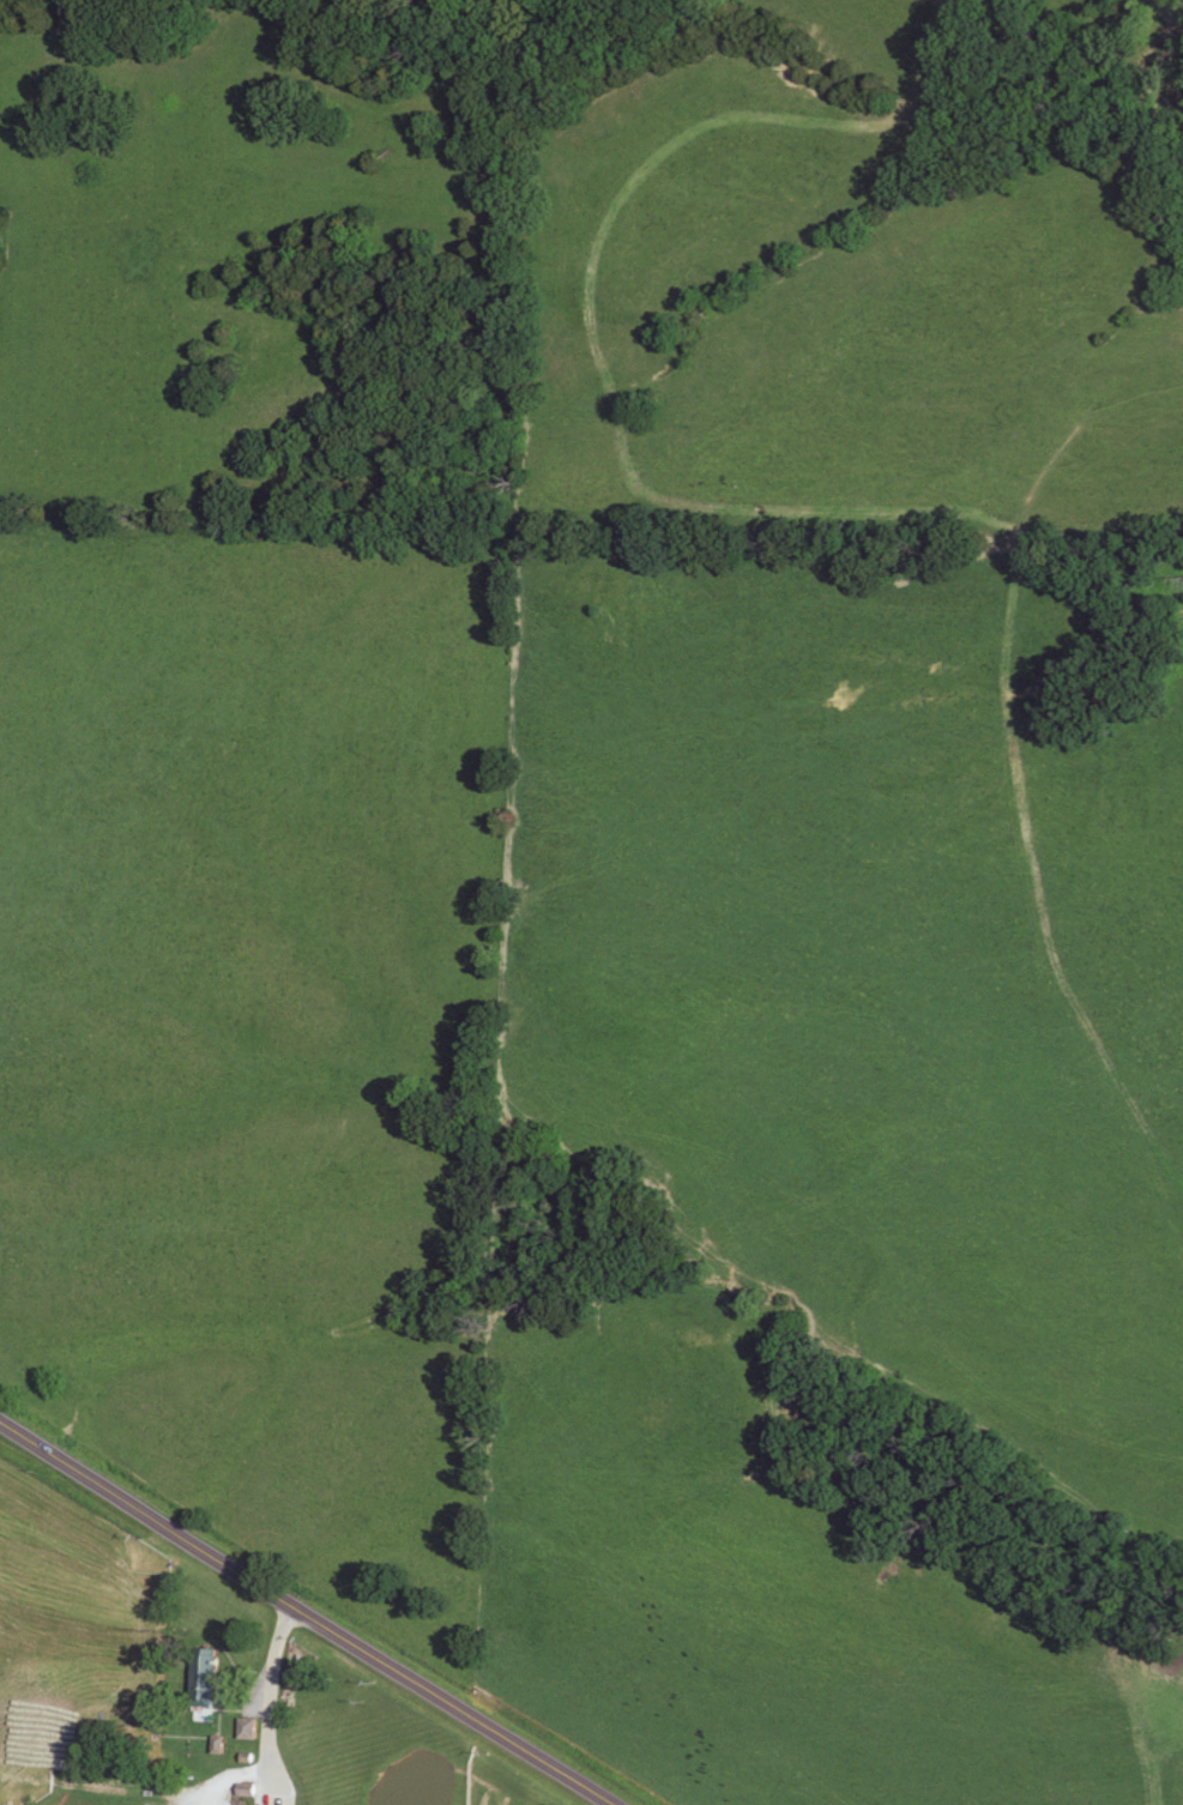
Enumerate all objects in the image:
road: (302, 1616)
building: (206, 1678)
road: (268, 1700)
building: (248, 1729)

